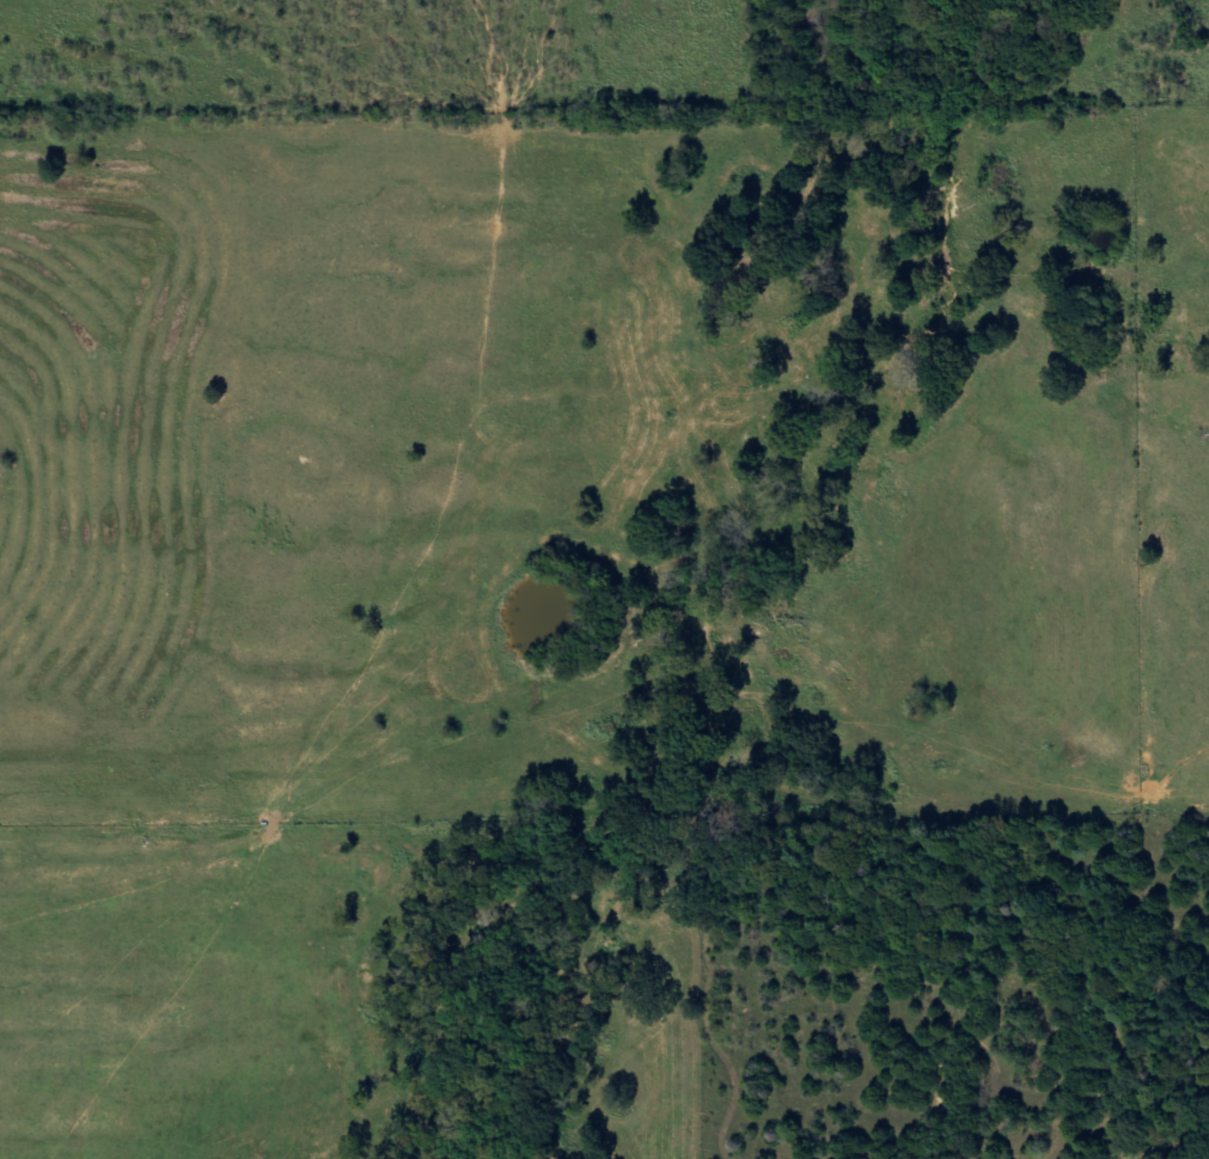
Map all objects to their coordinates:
road: (32, 892)

